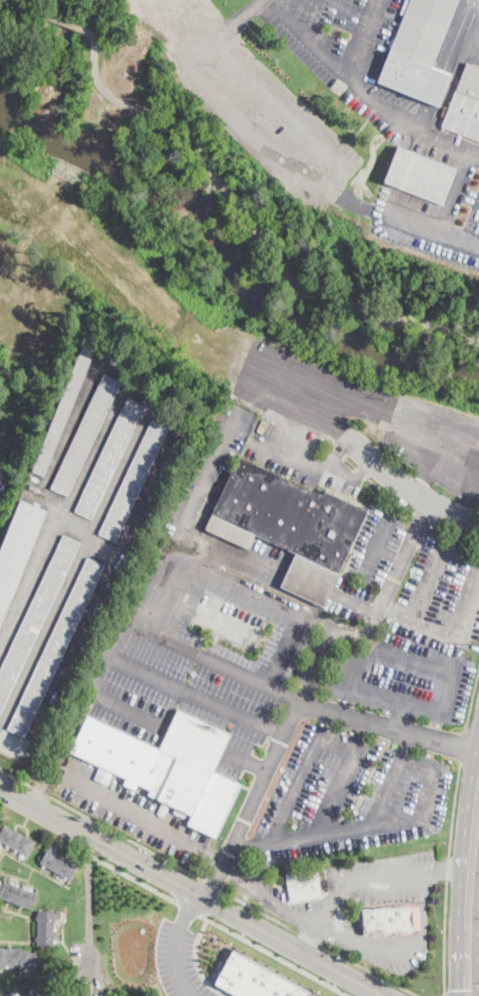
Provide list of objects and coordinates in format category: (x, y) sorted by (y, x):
road: (277, 2)
road: (27, 8)
road: (312, 18)
road: (68, 24)
road: (224, 29)
parking lot: (474, 31)
road: (458, 36)
road: (362, 40)
building: (419, 51)
parking lot: (348, 52)
road: (366, 94)
building: (464, 105)
parking lot: (264, 111)
road: (290, 113)
road: (238, 125)
park: (161, 155)
building: (419, 175)
road: (454, 194)
road: (467, 196)
road: (274, 197)
parking lot: (433, 217)
road: (255, 218)
road: (419, 227)
park: (392, 326)
building: (65, 407)
building: (86, 435)
road: (365, 453)
building: (110, 458)
road: (207, 476)
building: (134, 481)
building: (2, 487)
road: (419, 515)
building: (289, 524)
building: (17, 550)
road: (266, 596)
road: (342, 597)
road: (200, 604)
building: (36, 616)
building: (55, 648)
road: (211, 657)
road: (316, 662)
road: (194, 693)
road: (105, 697)
road: (303, 699)
road: (472, 702)
road: (444, 710)
road: (398, 712)
road: (462, 745)
road: (60, 746)
building: (168, 766)
road: (391, 776)
road: (338, 788)
parking lot: (347, 796)
road: (451, 809)
parking lot: (131, 810)
road: (136, 813)
road: (313, 837)
building: (16, 840)
road: (249, 845)
road: (88, 848)
building: (59, 864)
road: (446, 866)
road: (452, 870)
road: (213, 878)
road: (209, 882)
building: (304, 885)
road: (474, 886)
road: (191, 890)
road: (90, 892)
building: (17, 895)
road: (470, 897)
road: (188, 907)
road: (335, 916)
building: (416, 917)
building: (388, 920)
building: (46, 928)
road: (443, 937)
road: (474, 943)
road: (174, 944)
road: (409, 947)
road: (276, 955)
building: (18, 958)
parking lot: (179, 962)
road: (196, 963)
road: (91, 966)
building: (256, 978)
road: (460, 991)
building: (41, 994)
road: (443, 994)
building: (4, 995)

